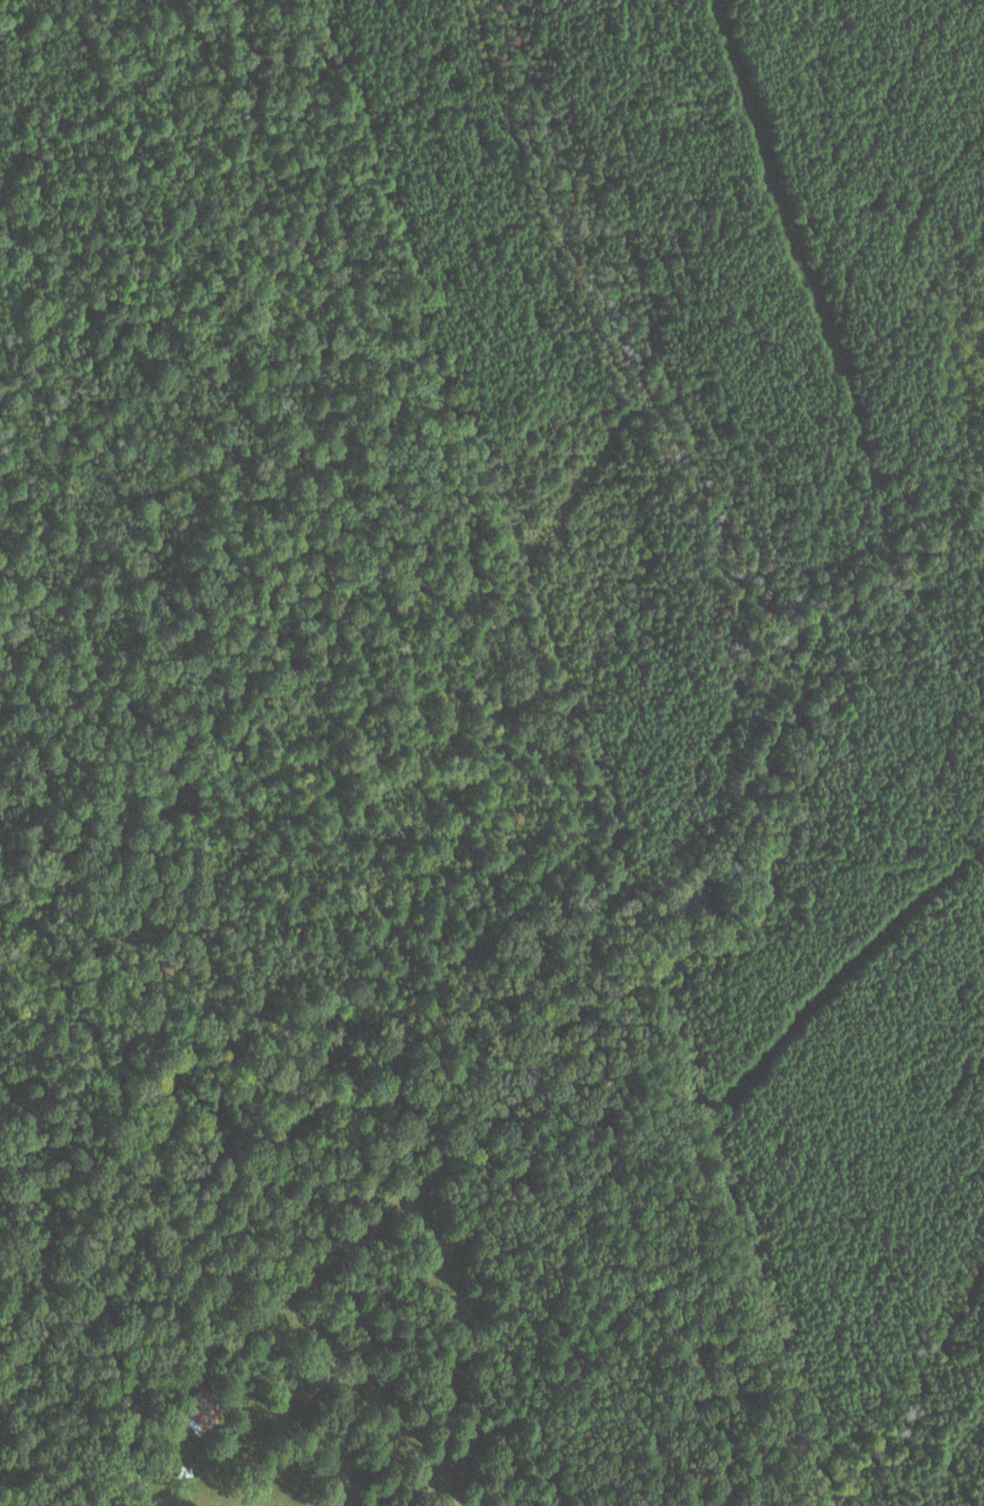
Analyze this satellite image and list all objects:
building: (201, 1411)

